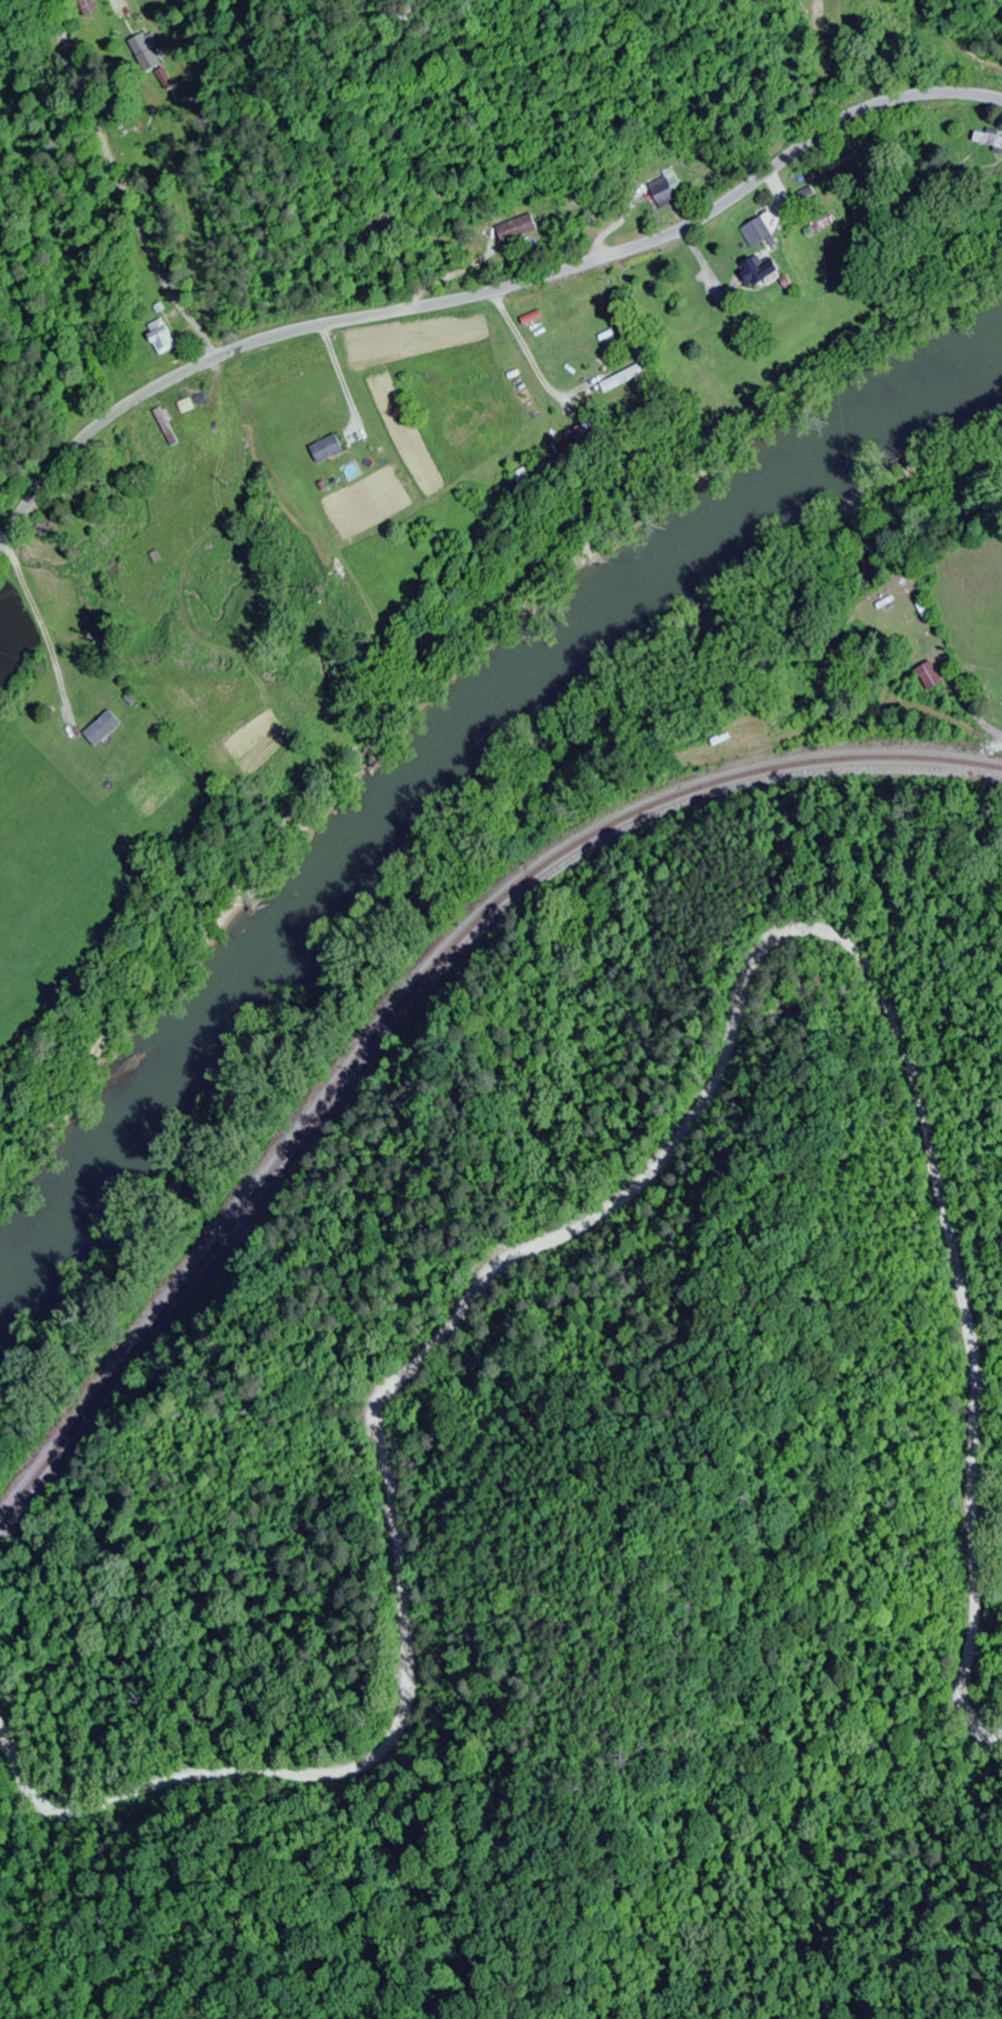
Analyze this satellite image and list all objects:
building: (88, 7)
building: (143, 44)
building: (164, 79)
building: (987, 139)
building: (664, 190)
building: (515, 229)
building: (755, 232)
building: (755, 272)
road: (484, 295)
building: (160, 338)
building: (166, 427)
building: (579, 438)
building: (327, 449)
building: (930, 674)
park: (989, 688)
building: (102, 728)
road: (992, 733)
river: (441, 755)
railway: (413, 1001)
road: (628, 1186)

